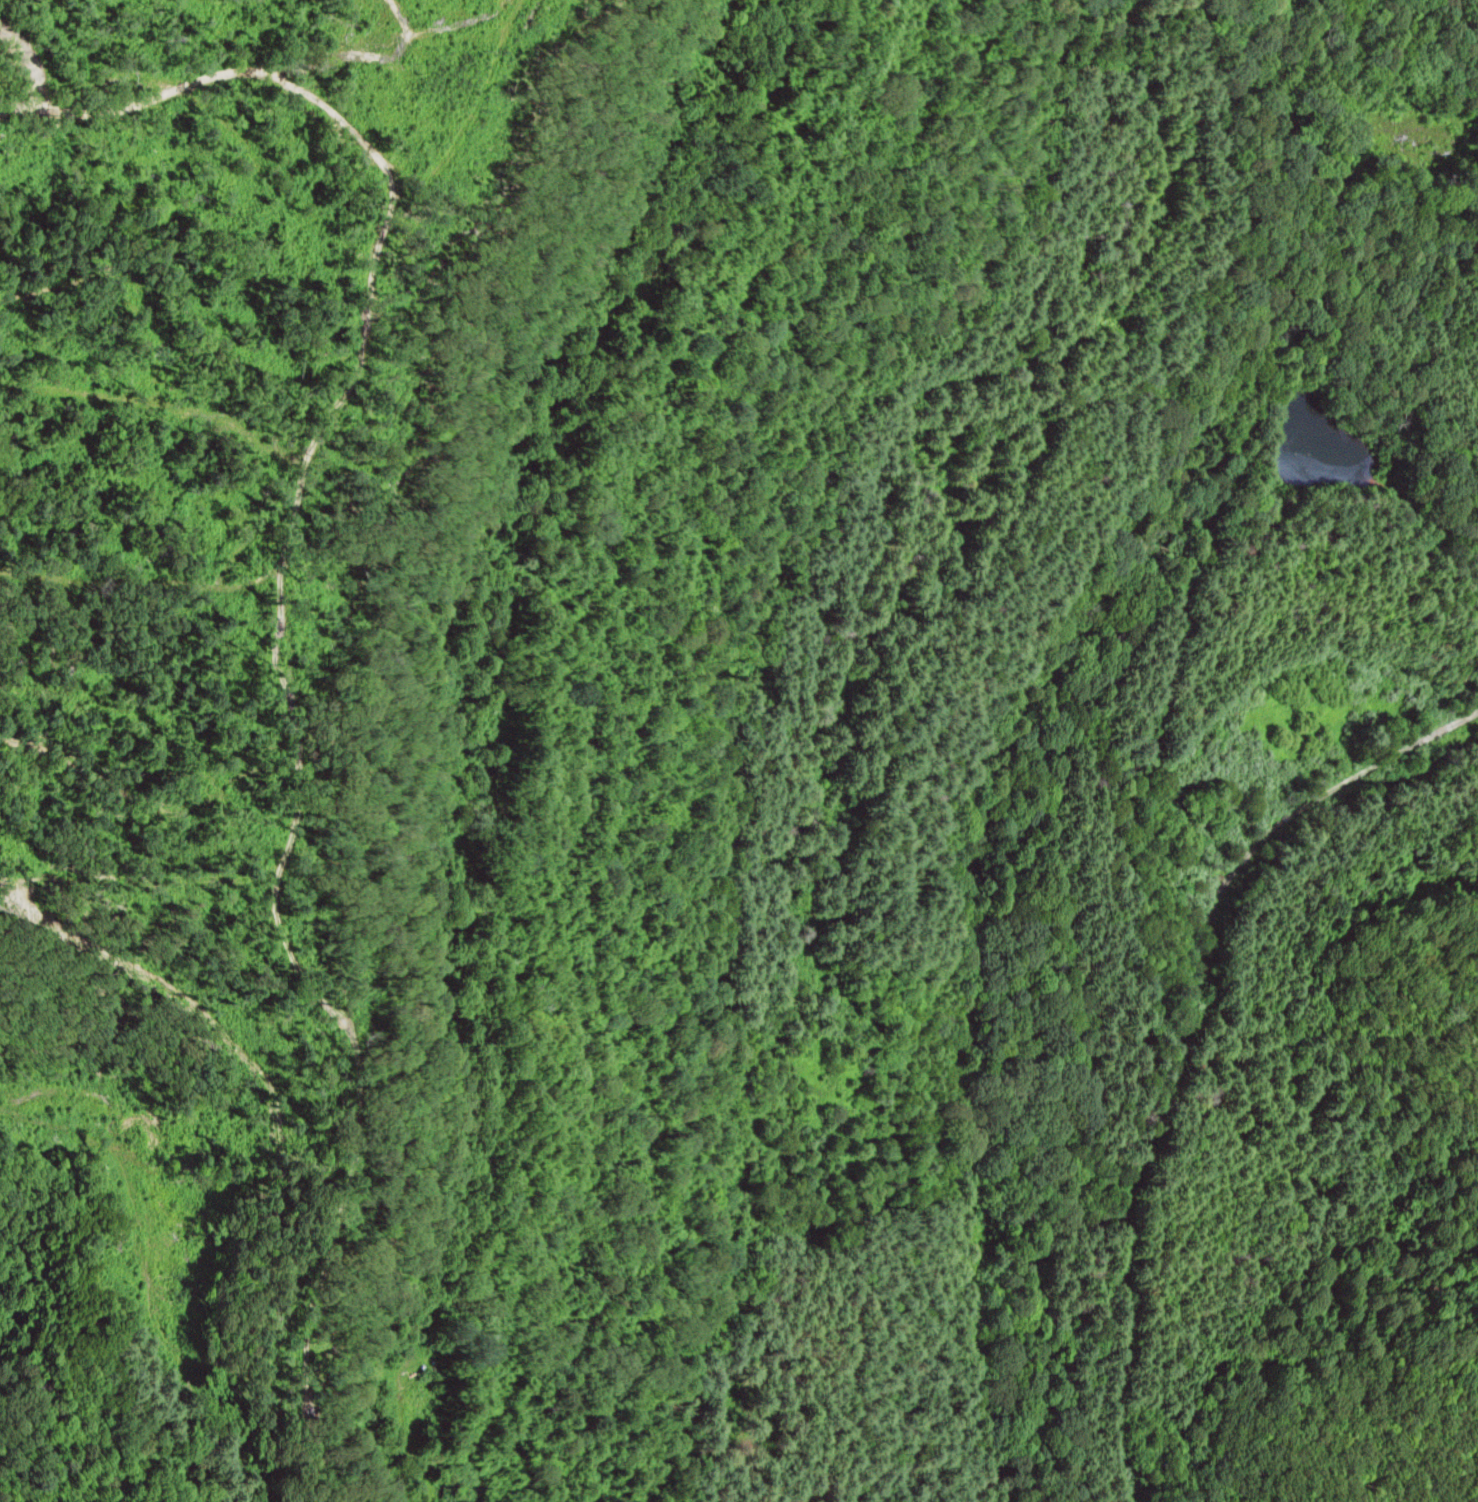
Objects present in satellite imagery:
road: (1176, 1041)

